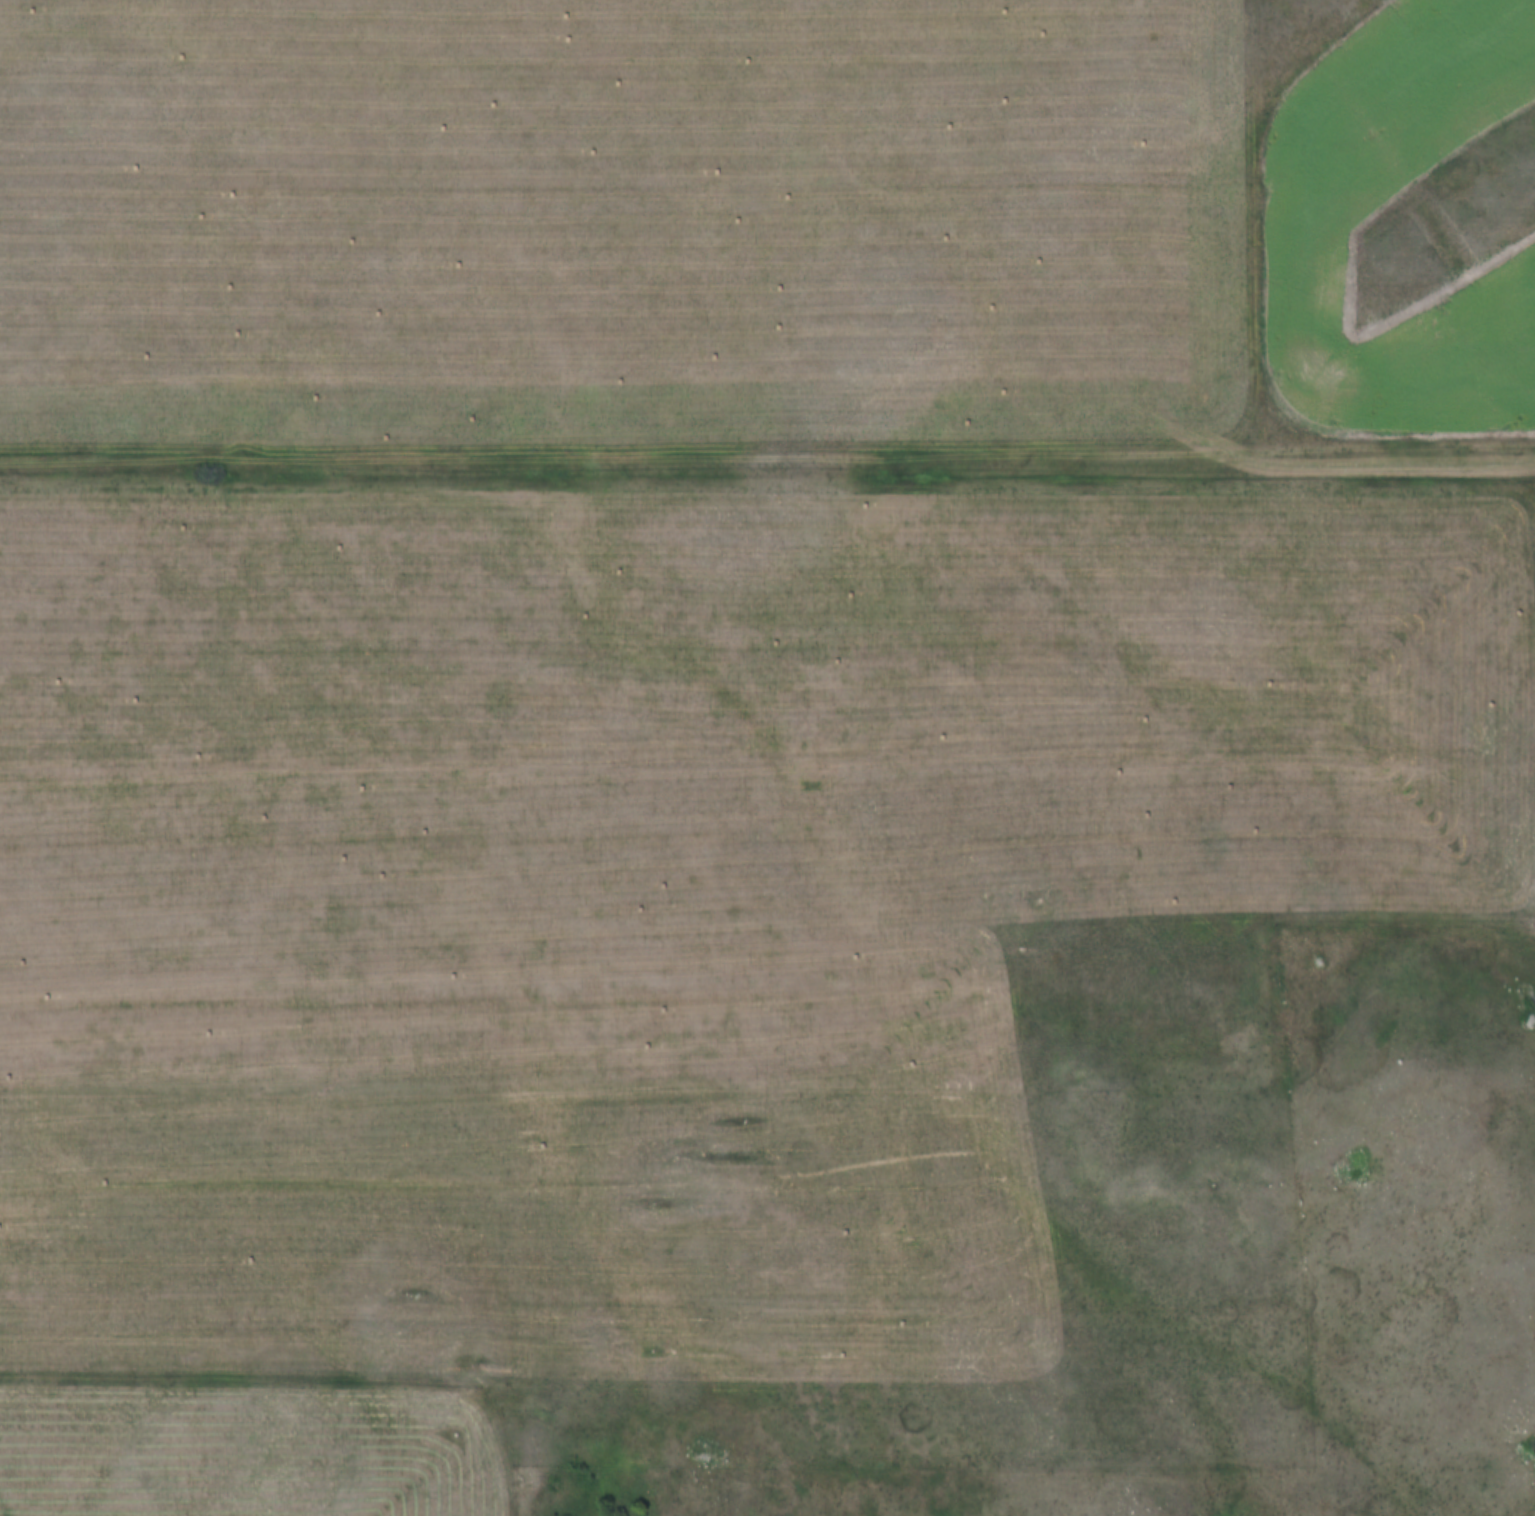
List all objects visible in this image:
road: (767, 461)

